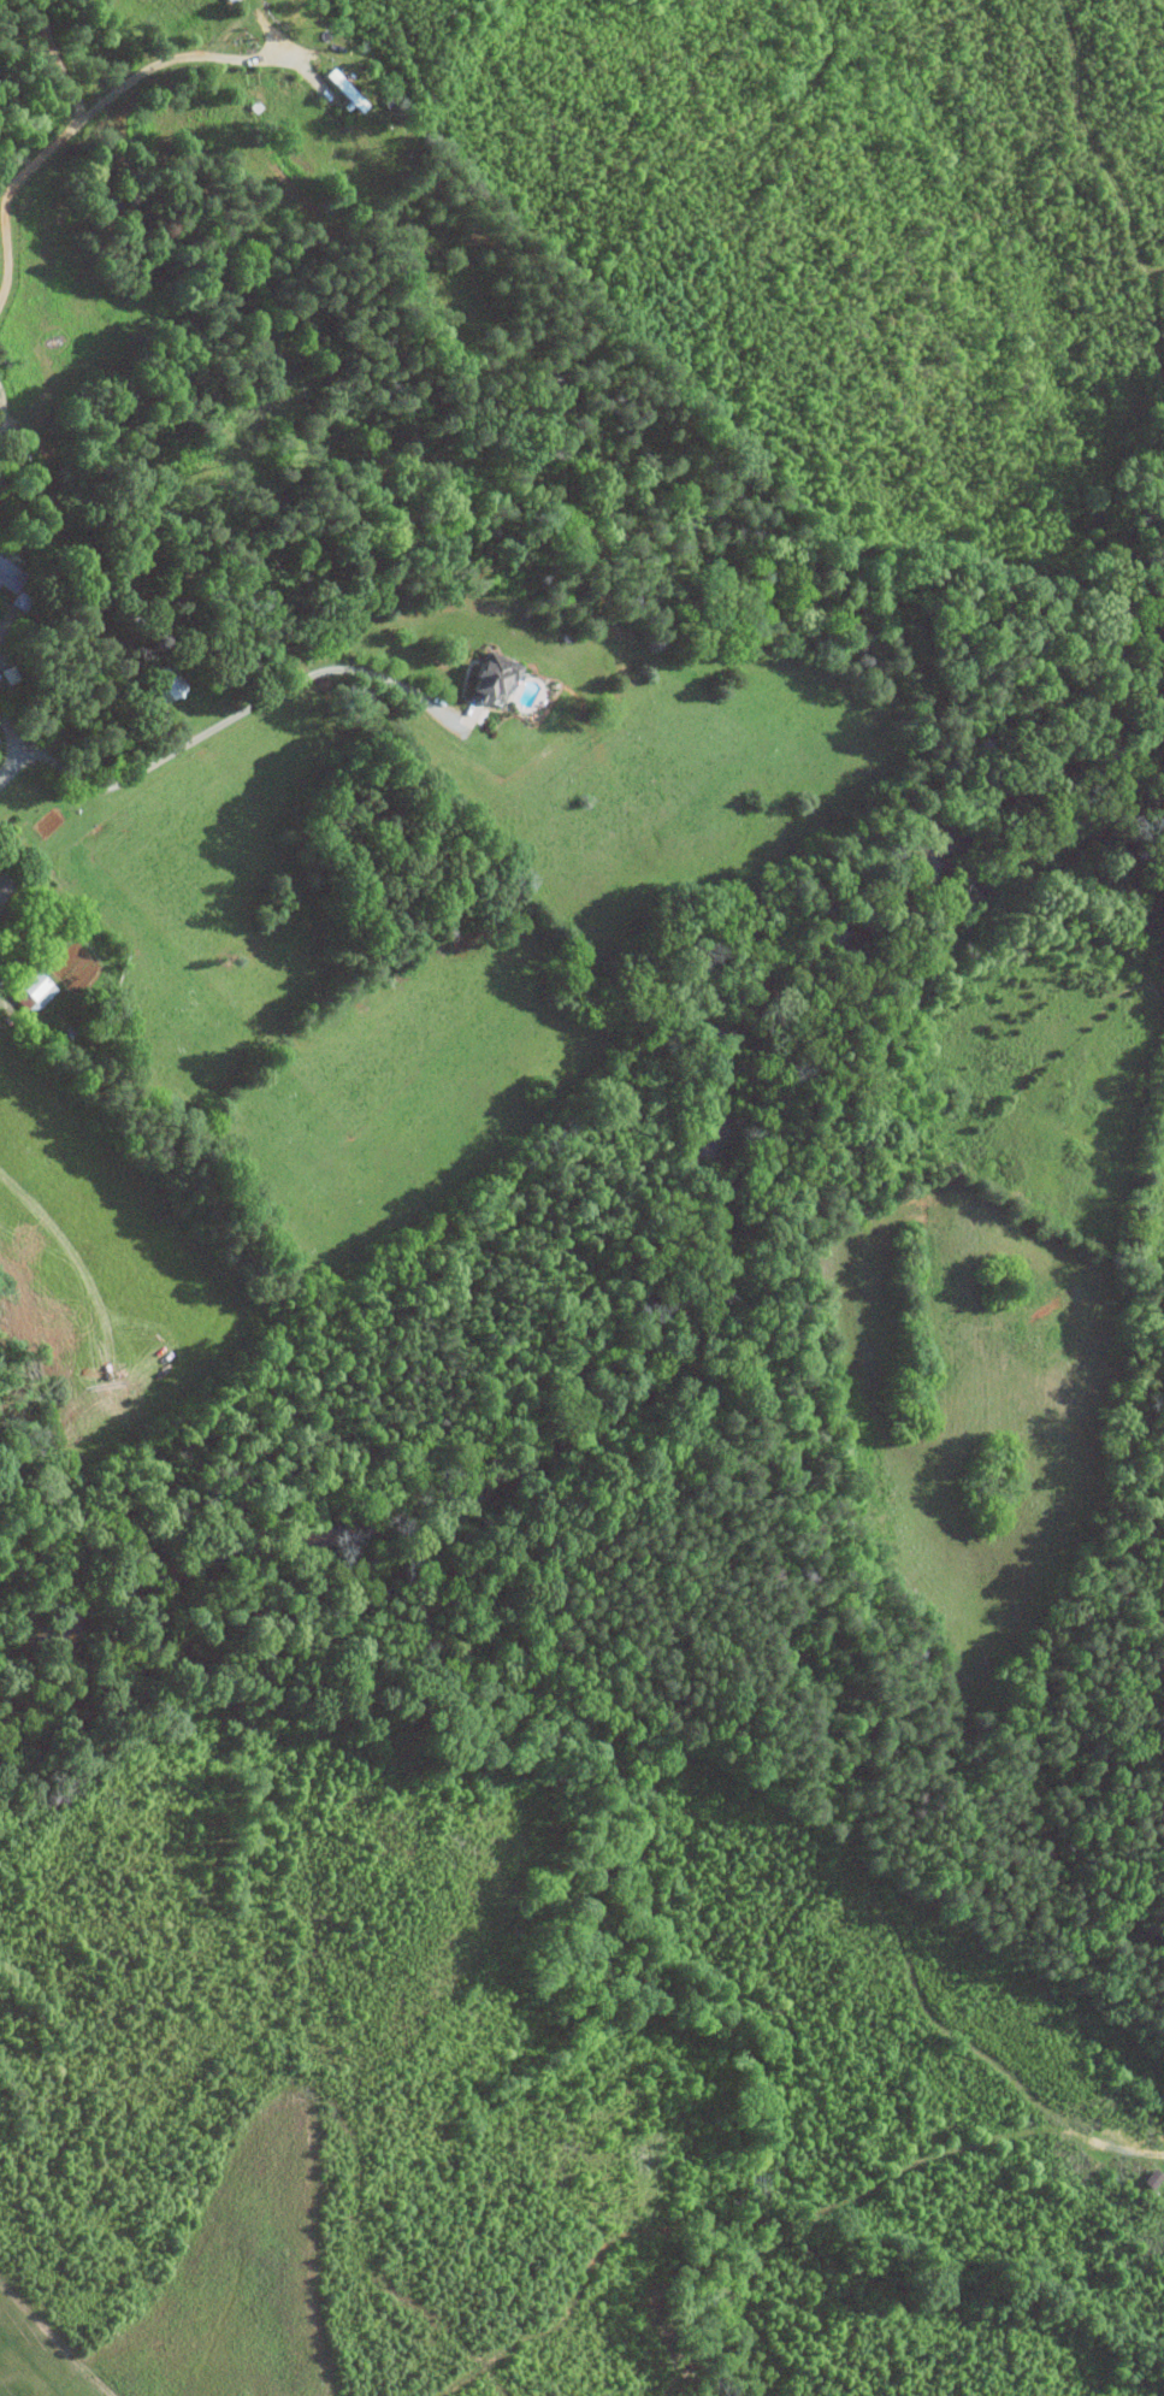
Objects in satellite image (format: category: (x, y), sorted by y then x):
building: (230, 1)
road: (179, 54)
building: (344, 89)
road: (51, 149)
road: (0, 403)
building: (7, 574)
building: (490, 678)
road: (238, 712)
road: (12, 733)
road: (12, 771)
building: (4, 887)
building: (36, 989)
road: (2, 1003)

